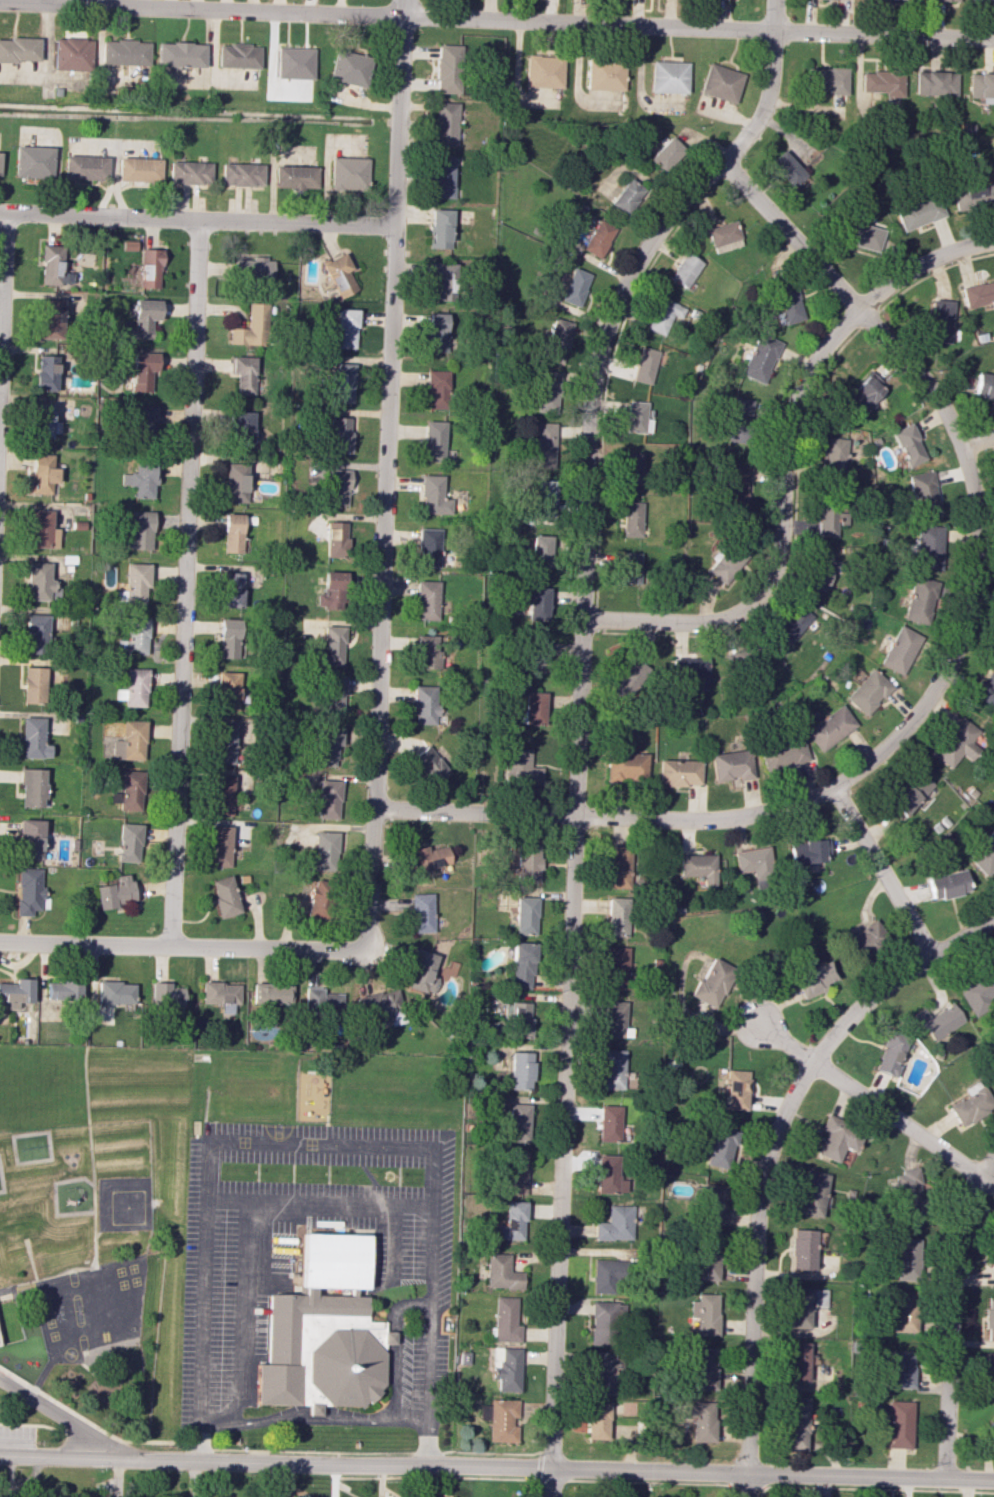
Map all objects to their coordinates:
building: (944, 0)
building: (982, 1)
road: (496, 20)
building: (18, 49)
building: (125, 52)
building: (72, 54)
building: (179, 54)
building: (238, 55)
building: (295, 63)
building: (349, 68)
building: (447, 69)
building: (544, 71)
building: (605, 74)
building: (668, 77)
building: (826, 79)
building: (883, 81)
building: (720, 82)
building: (935, 83)
building: (981, 85)
building: (445, 123)
building: (665, 152)
building: (0, 160)
building: (33, 161)
building: (84, 167)
building: (139, 169)
building: (787, 169)
building: (190, 172)
building: (242, 173)
building: (349, 173)
building: (443, 175)
building: (296, 177)
building: (626, 195)
building: (973, 195)
building: (919, 212)
road: (196, 219)
building: (440, 228)
building: (860, 235)
building: (724, 236)
building: (597, 238)
building: (129, 245)
building: (54, 266)
building: (150, 268)
building: (253, 269)
building: (685, 270)
road: (2, 274)
building: (339, 275)
building: (443, 279)
building: (574, 287)
building: (978, 293)
building: (787, 302)
building: (664, 315)
building: (52, 318)
building: (144, 318)
building: (941, 321)
building: (252, 327)
building: (346, 328)
building: (435, 331)
building: (557, 340)
building: (760, 357)
building: (645, 365)
building: (143, 370)
building: (46, 372)
building: (243, 374)
building: (342, 382)
building: (985, 384)
building: (435, 388)
building: (547, 391)
building: (865, 393)
building: (636, 416)
building: (45, 421)
building: (143, 421)
building: (740, 422)
building: (240, 431)
building: (340, 434)
building: (433, 440)
road: (977, 442)
building: (543, 444)
building: (908, 444)
building: (834, 457)
road: (785, 460)
building: (633, 467)
building: (42, 473)
road: (384, 473)
building: (141, 478)
building: (235, 482)
building: (338, 487)
building: (735, 487)
building: (924, 494)
building: (432, 495)
building: (541, 496)
building: (830, 517)
building: (631, 519)
building: (42, 529)
building: (139, 531)
building: (232, 533)
building: (336, 539)
building: (428, 547)
building: (929, 547)
building: (540, 550)
building: (727, 561)
building: (629, 568)
building: (820, 571)
building: (40, 582)
road: (184, 582)
building: (137, 583)
building: (331, 588)
building: (231, 590)
building: (427, 599)
building: (919, 601)
building: (537, 603)
building: (792, 623)
building: (37, 634)
building: (135, 637)
building: (230, 638)
building: (332, 645)
building: (901, 650)
building: (428, 651)
building: (535, 656)
building: (746, 656)
building: (690, 671)
building: (627, 678)
road: (938, 680)
building: (985, 684)
building: (35, 685)
building: (134, 688)
building: (227, 691)
building: (868, 691)
building: (332, 694)
building: (424, 704)
road: (577, 706)
building: (531, 709)
building: (830, 727)
building: (34, 739)
building: (130, 741)
building: (957, 742)
building: (226, 743)
building: (326, 747)
building: (784, 754)
building: (429, 765)
building: (625, 765)
building: (730, 765)
building: (520, 767)
building: (679, 772)
building: (33, 787)
building: (129, 791)
building: (909, 793)
building: (222, 795)
building: (327, 799)
building: (32, 837)
building: (130, 842)
building: (221, 846)
building: (323, 852)
building: (808, 852)
building: (984, 855)
building: (428, 858)
building: (528, 863)
building: (754, 863)
building: (618, 867)
building: (699, 868)
road: (881, 871)
building: (947, 884)
building: (29, 890)
building: (115, 892)
building: (225, 896)
building: (316, 897)
building: (421, 913)
building: (525, 915)
building: (617, 917)
building: (868, 937)
road: (183, 945)
building: (521, 965)
building: (616, 967)
building: (422, 972)
building: (814, 979)
building: (713, 982)
building: (63, 988)
building: (979, 989)
building: (16, 991)
building: (116, 993)
building: (272, 994)
building: (221, 995)
building: (166, 997)
building: (323, 1001)
building: (380, 1005)
building: (517, 1019)
building: (614, 1019)
building: (937, 1019)
building: (891, 1051)
building: (612, 1069)
building: (520, 1070)
building: (736, 1089)
building: (970, 1105)
road: (876, 1107)
building: (518, 1122)
building: (609, 1123)
building: (838, 1138)
road: (320, 1144)
road: (771, 1145)
building: (720, 1147)
park: (89, 1154)
road: (92, 1167)
building: (514, 1172)
building: (609, 1175)
building: (906, 1192)
building: (812, 1193)
road: (320, 1202)
building: (711, 1203)
building: (512, 1222)
building: (616, 1224)
road: (24, 1229)
road: (397, 1242)
building: (802, 1249)
building: (906, 1259)
building: (708, 1262)
building: (992, 1262)
building: (502, 1272)
building: (607, 1276)
building: (803, 1304)
building: (902, 1311)
road: (947, 1311)
road: (243, 1314)
building: (705, 1314)
building: (989, 1318)
building: (506, 1320)
building: (605, 1323)
building: (325, 1330)
road: (394, 1346)
road: (54, 1359)
building: (796, 1361)
building: (507, 1368)
building: (705, 1368)
building: (901, 1369)
building: (990, 1371)
building: (602, 1372)
road: (19, 1379)
road: (313, 1418)
road: (61, 1419)
building: (500, 1419)
building: (700, 1419)
building: (597, 1420)
building: (795, 1423)
building: (898, 1424)
road: (34, 1426)
building: (989, 1429)
road: (108, 1433)
road: (496, 1467)
road: (10, 1476)
road: (550, 1483)
road: (745, 1485)

